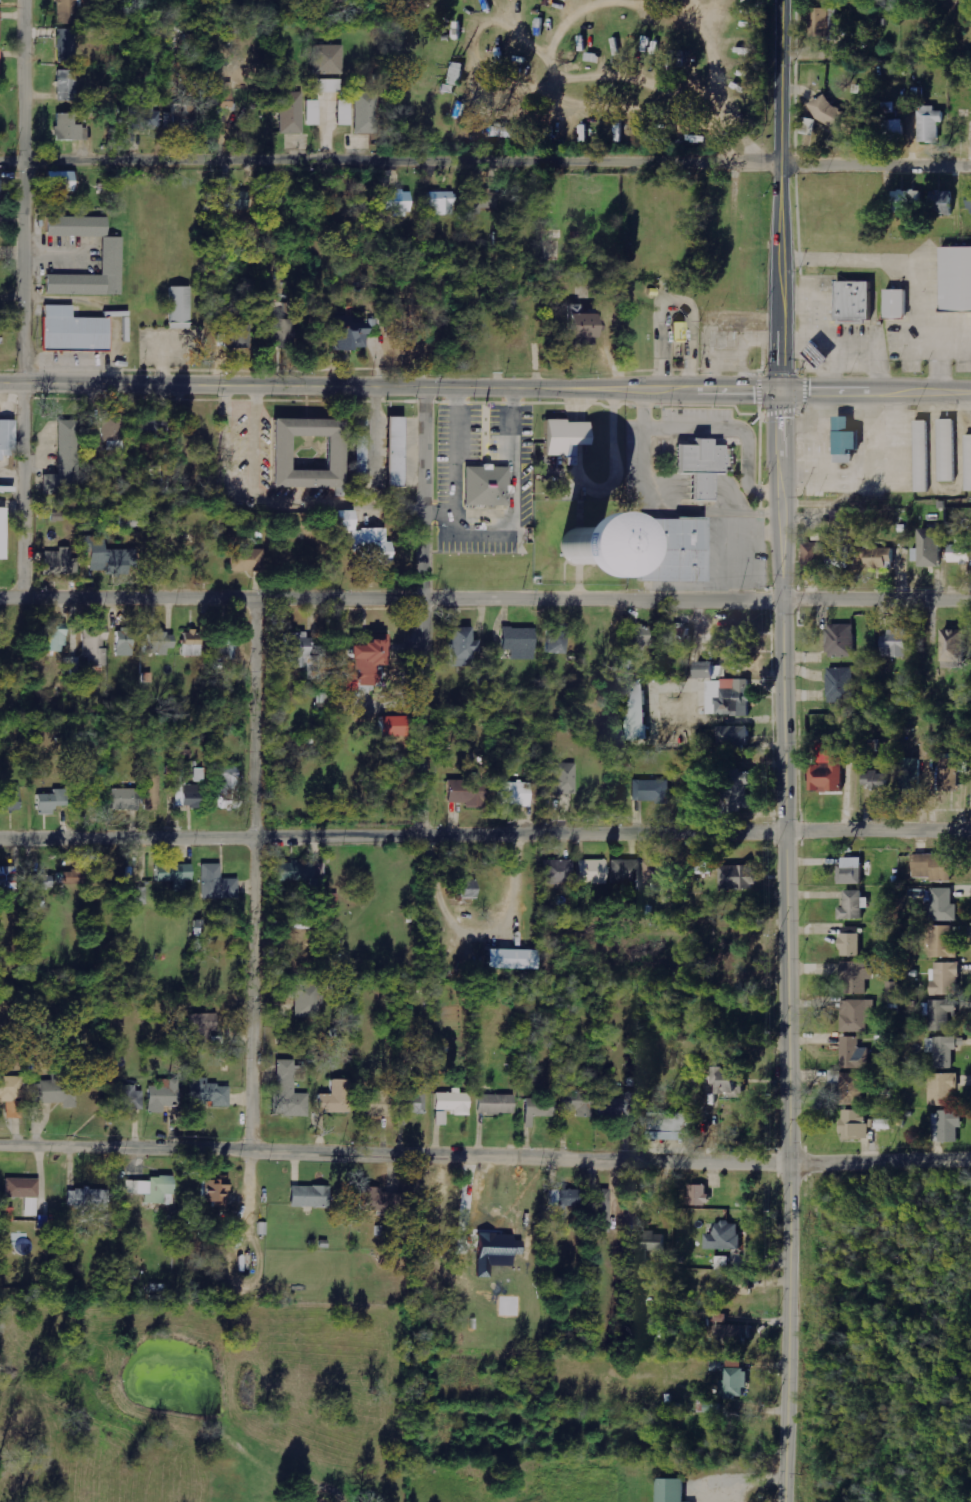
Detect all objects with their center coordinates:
building: (0, 1)
building: (68, 12)
building: (824, 23)
building: (0, 27)
building: (67, 46)
building: (329, 60)
building: (0, 66)
building: (68, 85)
building: (329, 86)
building: (227, 95)
building: (345, 112)
building: (291, 113)
building: (313, 113)
building: (367, 113)
building: (836, 115)
building: (145, 116)
building: (180, 116)
building: (932, 123)
building: (70, 128)
building: (894, 130)
building: (509, 132)
road: (485, 161)
building: (63, 181)
building: (0, 186)
road: (30, 190)
road: (781, 195)
building: (945, 197)
building: (909, 200)
building: (237, 201)
building: (485, 201)
building: (400, 202)
building: (442, 202)
building: (970, 202)
building: (107, 257)
building: (953, 280)
building: (849, 302)
building: (891, 306)
building: (181, 307)
building: (410, 316)
building: (583, 323)
building: (67, 332)
building: (681, 332)
building: (281, 333)
building: (239, 335)
building: (352, 338)
building: (586, 342)
building: (813, 354)
gas station: (813, 354)
building: (823, 355)
road: (485, 390)
traffic signals: (779, 392)
building: (151, 428)
building: (113, 432)
building: (559, 437)
building: (7, 439)
building: (355, 449)
building: (942, 451)
building: (398, 452)
building: (313, 454)
building: (389, 454)
building: (833, 454)
building: (917, 457)
building: (66, 462)
building: (966, 463)
building: (696, 469)
building: (482, 488)
road: (25, 489)
building: (809, 493)
building: (842, 519)
building: (4, 534)
building: (366, 547)
building: (934, 547)
building: (530, 552)
building: (667, 552)
building: (960, 553)
building: (107, 557)
building: (813, 557)
building: (841, 557)
building: (879, 557)
building: (248, 560)
building: (59, 563)
road: (485, 600)
road: (421, 612)
building: (557, 638)
building: (640, 638)
building: (55, 639)
building: (842, 640)
building: (125, 642)
building: (738, 642)
building: (159, 643)
building: (192, 643)
building: (521, 643)
building: (896, 643)
building: (226, 645)
building: (95, 646)
building: (465, 647)
building: (956, 649)
building: (304, 655)
building: (712, 670)
building: (841, 685)
building: (730, 697)
building: (638, 710)
building: (395, 726)
building: (736, 735)
building: (930, 750)
building: (829, 770)
building: (951, 773)
building: (911, 775)
building: (562, 779)
building: (877, 781)
building: (230, 791)
building: (467, 791)
building: (651, 791)
building: (151, 793)
building: (743, 793)
building: (515, 794)
building: (188, 796)
building: (14, 798)
building: (126, 799)
building: (53, 801)
road: (485, 835)
building: (705, 865)
building: (935, 867)
building: (853, 871)
building: (174, 872)
building: (559, 872)
building: (593, 872)
building: (304, 874)
building: (626, 874)
building: (71, 877)
building: (739, 877)
road: (254, 878)
building: (9, 879)
building: (42, 883)
building: (218, 883)
building: (466, 888)
building: (855, 905)
building: (942, 906)
building: (944, 942)
building: (853, 945)
road: (784, 947)
building: (515, 960)
building: (857, 976)
building: (946, 979)
building: (307, 1000)
building: (939, 1014)
building: (858, 1015)
building: (204, 1029)
building: (944, 1050)
building: (854, 1054)
building: (733, 1082)
building: (853, 1088)
building: (943, 1089)
building: (57, 1091)
building: (289, 1092)
building: (12, 1096)
building: (218, 1096)
building: (337, 1098)
building: (129, 1099)
building: (162, 1099)
building: (411, 1101)
building: (454, 1102)
building: (578, 1103)
building: (496, 1104)
building: (378, 1105)
building: (540, 1108)
building: (441, 1118)
building: (949, 1124)
building: (862, 1125)
building: (673, 1126)
road: (392, 1158)
road: (878, 1164)
building: (153, 1189)
building: (25, 1193)
building: (218, 1193)
building: (700, 1195)
building: (312, 1197)
building: (567, 1198)
building: (89, 1199)
building: (381, 1201)
building: (602, 1211)
building: (725, 1237)
building: (649, 1247)
building: (722, 1263)
building: (742, 1285)
building: (735, 1335)
building: (735, 1383)
building: (672, 1490)

